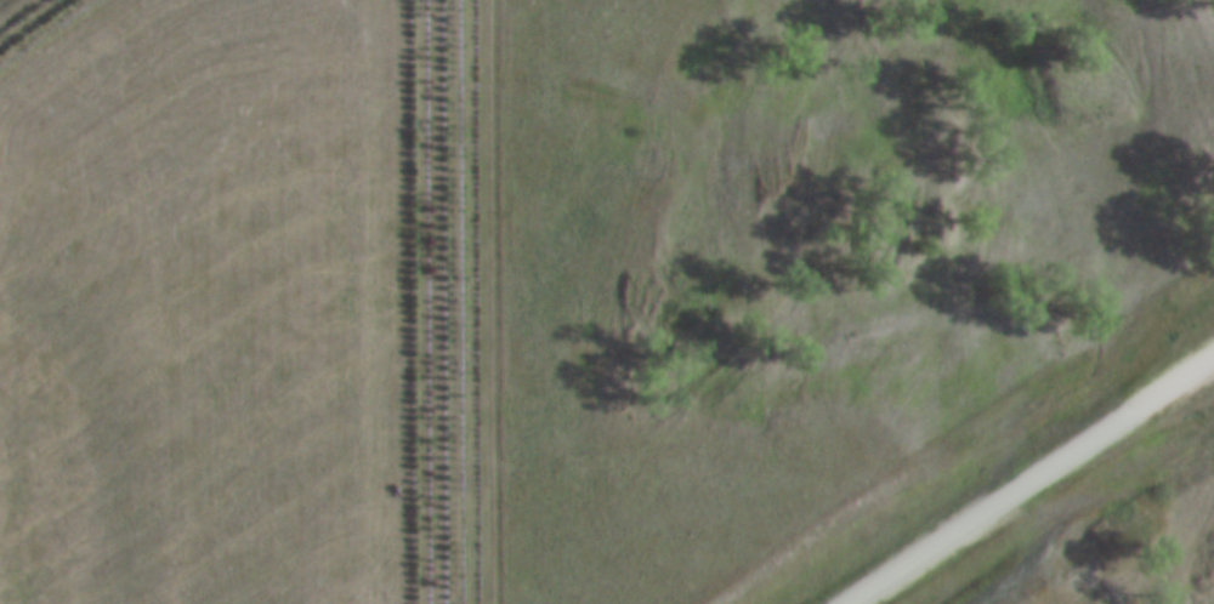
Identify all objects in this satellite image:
road: (1027, 479)

